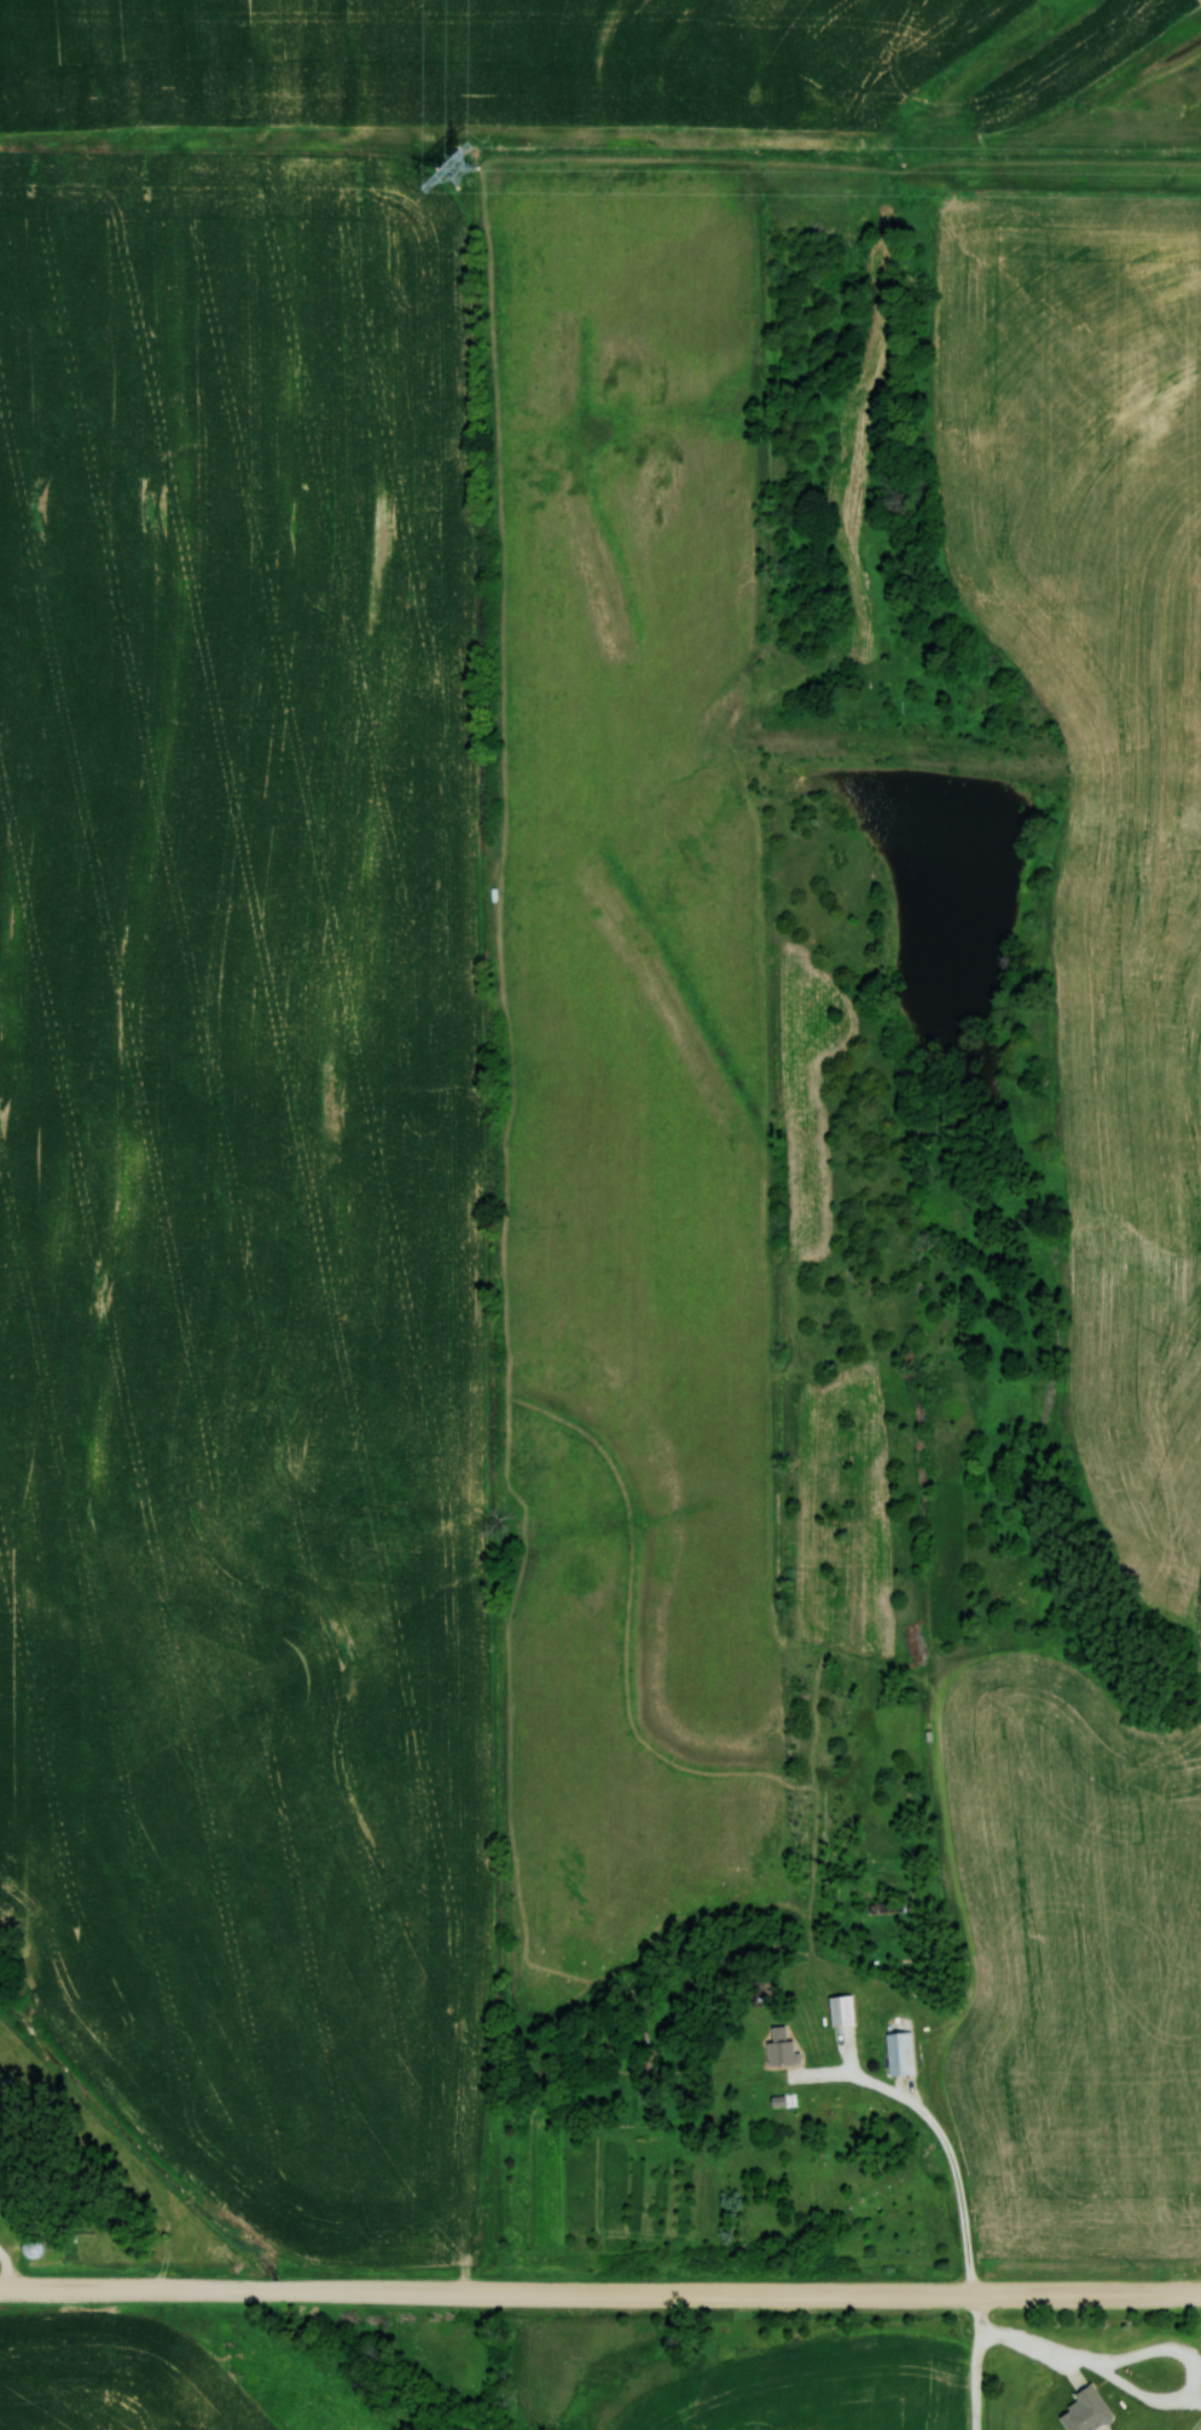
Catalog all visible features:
power tower: (452, 170)
building: (846, 2009)
building: (785, 2047)
building: (901, 2053)
road: (725, 2124)
building: (40, 2246)
road: (22, 2268)
road: (599, 2287)
road: (971, 2359)
building: (1095, 2411)

